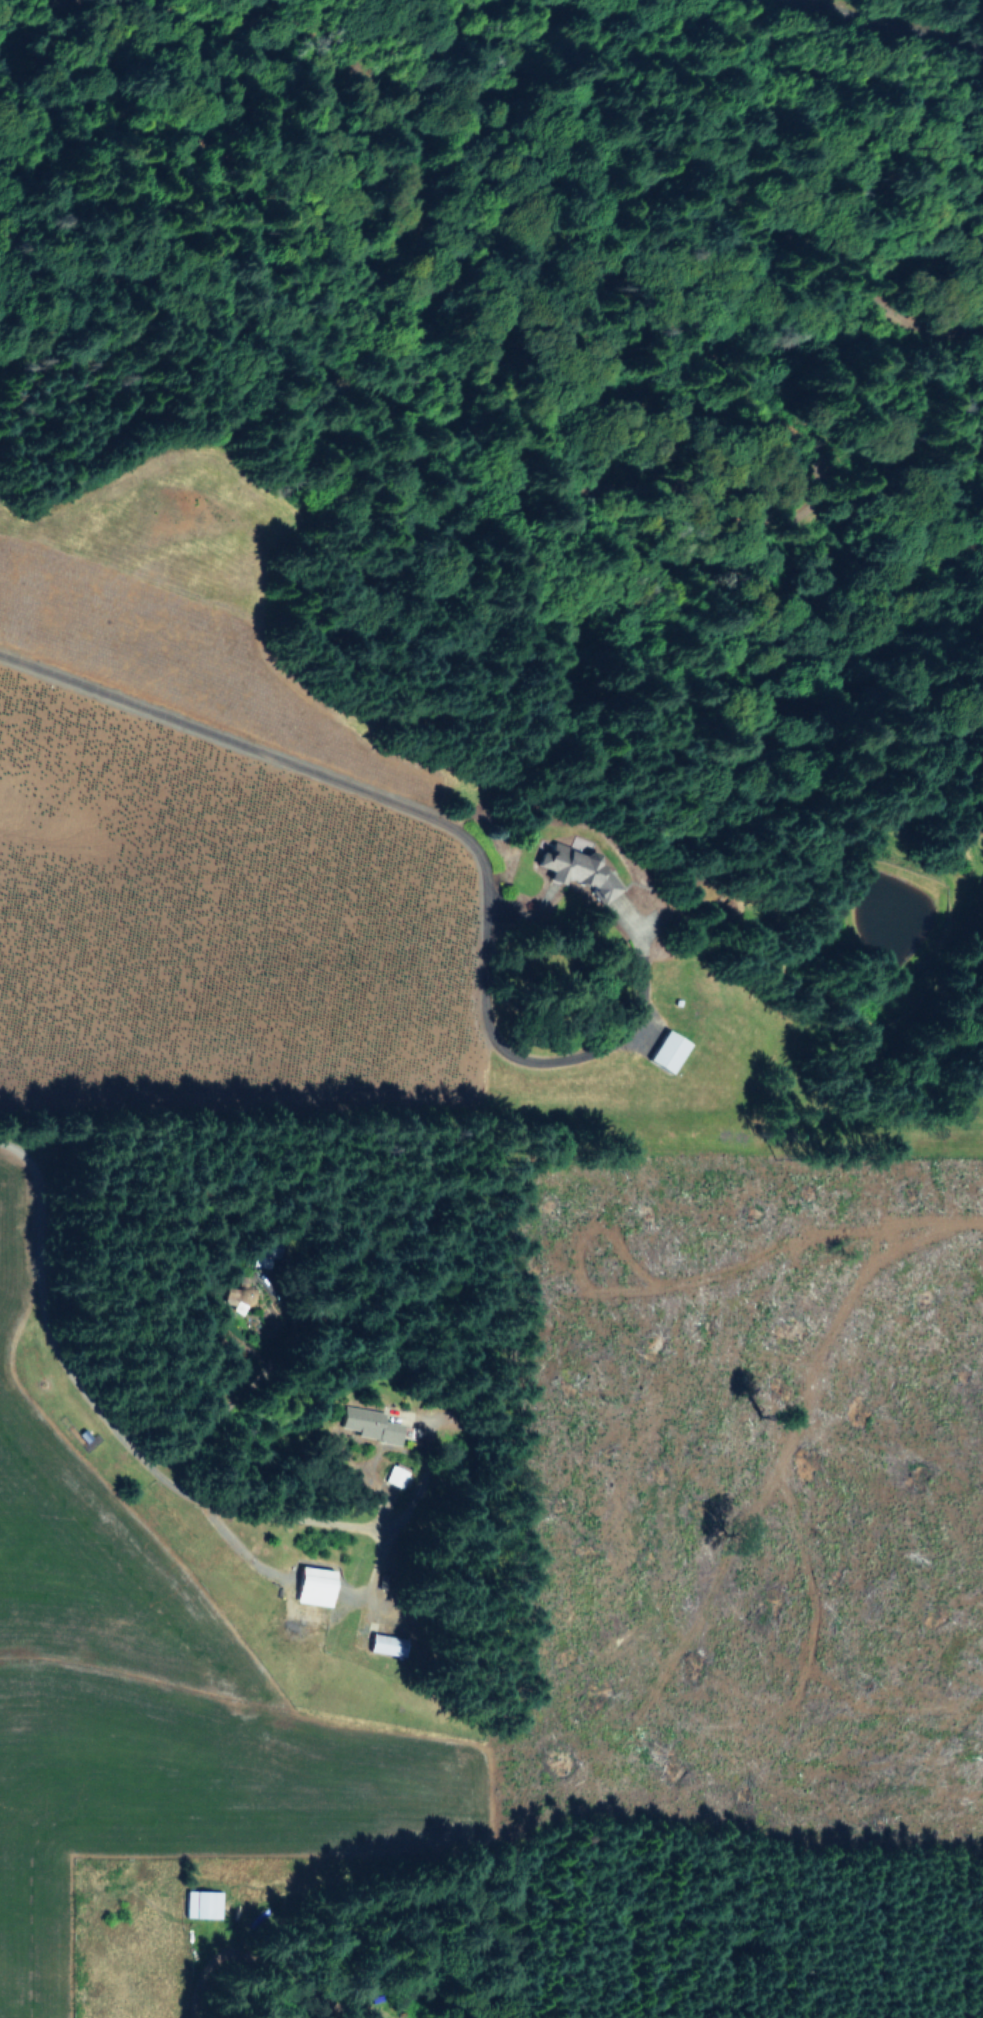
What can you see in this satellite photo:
railway: (895, 26)
road: (456, 48)
road: (178, 77)
road: (747, 552)
road: (456, 839)
building: (580, 870)
crop: (308, 945)
building: (668, 1051)
road: (239, 1405)
building: (367, 1422)
road: (146, 1471)
building: (315, 1585)
road: (292, 1608)
building: (387, 1644)
building: (202, 1902)
road: (233, 1943)

